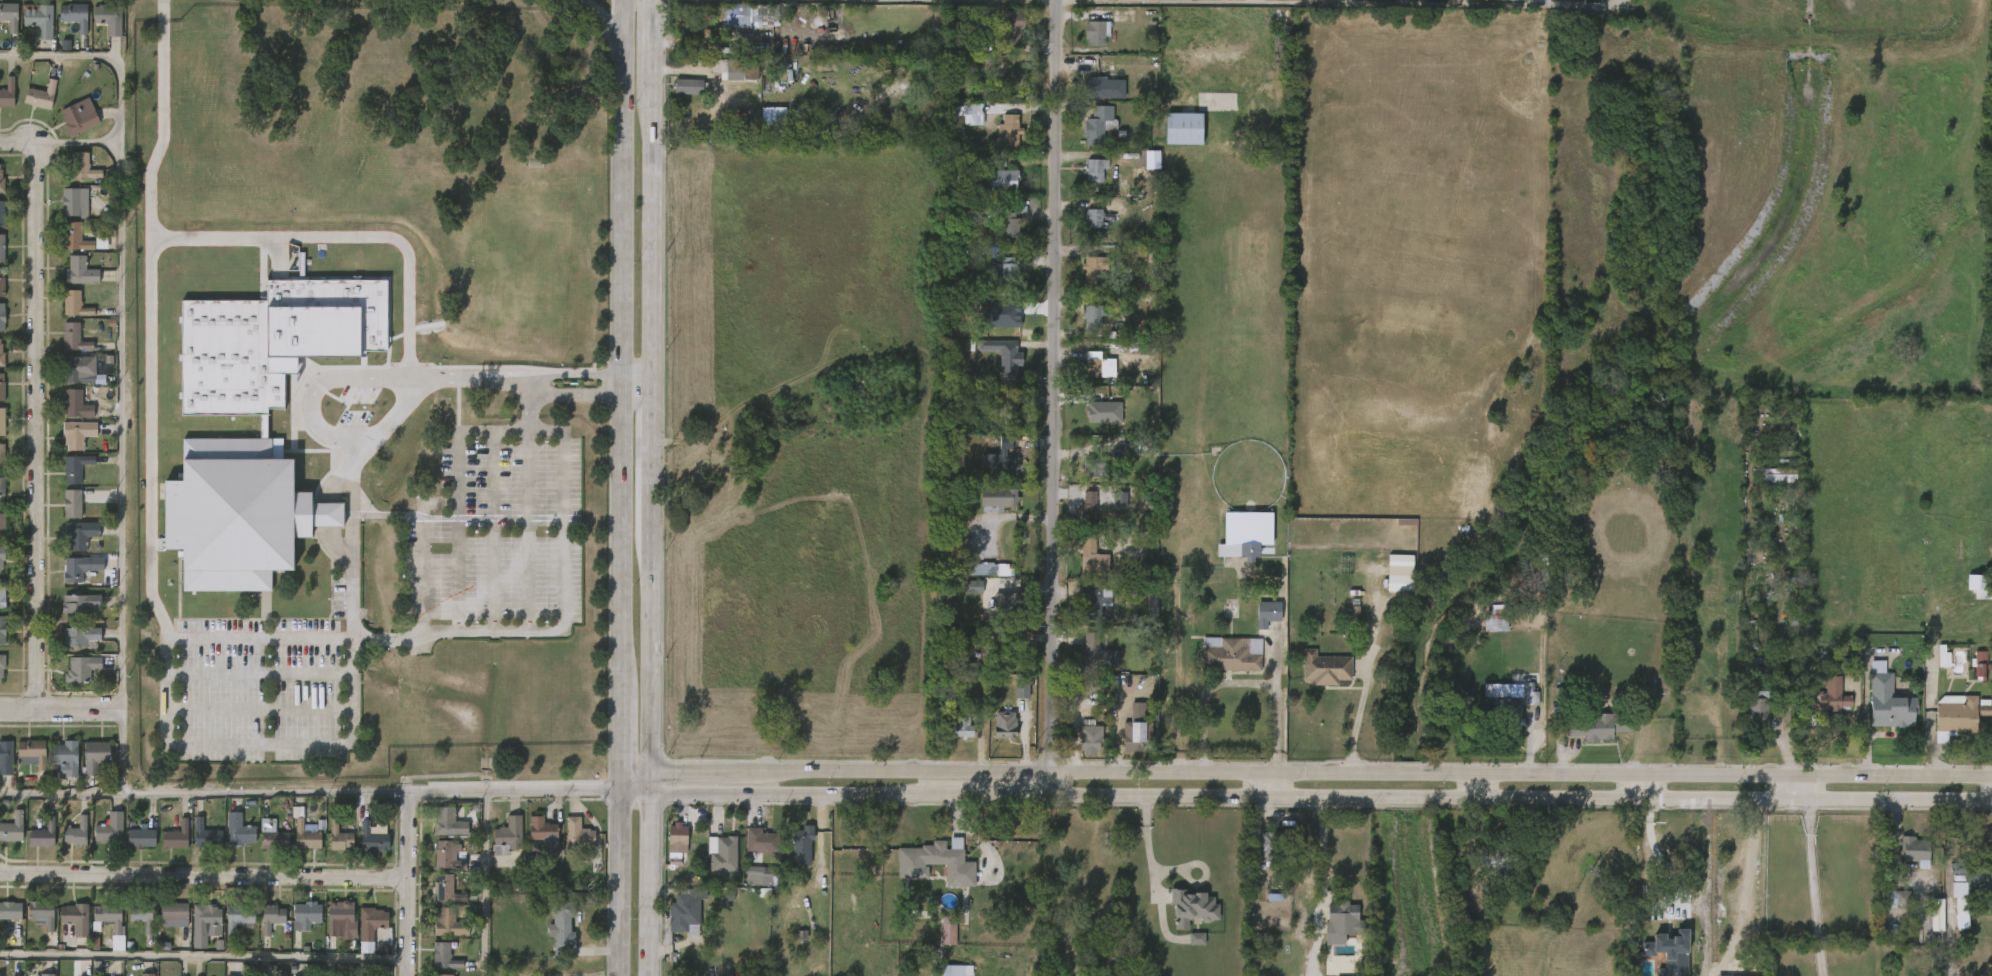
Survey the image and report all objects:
road: (1378, 1)
building: (1573, 1)
road: (1580, 3)
building: (74, 15)
building: (738, 15)
building: (10, 16)
building: (109, 17)
building: (40, 20)
building: (685, 22)
road: (603, 23)
building: (64, 26)
building: (731, 27)
building: (1012, 27)
building: (98, 28)
building: (3, 29)
building: (1094, 33)
building: (1001, 38)
road: (652, 43)
building: (1083, 44)
building: (735, 69)
building: (724, 80)
building: (688, 87)
building: (1096, 87)
building: (7, 92)
building: (41, 96)
building: (679, 97)
building: (1092, 98)
building: (30, 107)
building: (78, 119)
building: (961, 120)
building: (1101, 128)
building: (1182, 129)
building: (1008, 132)
building: (1171, 139)
road: (73, 142)
building: (997, 142)
building: (83, 166)
building: (1094, 170)
building: (72, 177)
building: (1084, 179)
building: (1, 181)
building: (1002, 181)
road: (620, 185)
building: (992, 190)
building: (72, 204)
building: (2, 213)
building: (63, 213)
building: (1093, 219)
building: (1009, 226)
building: (1082, 229)
road: (346, 236)
building: (74, 237)
road: (651, 240)
building: (1, 248)
building: (66, 249)
building: (1093, 269)
building: (77, 270)
building: (1005, 273)
building: (1083, 280)
building: (69, 282)
building: (2, 283)
building: (72, 303)
building: (64, 315)
building: (1092, 315)
building: (1, 316)
building: (1082, 326)
road: (119, 329)
building: (74, 337)
building: (63, 348)
building: (3, 353)
building: (1003, 356)
building: (1095, 364)
building: (992, 367)
building: (82, 370)
road: (634, 371)
building: (1085, 376)
building: (70, 380)
road: (531, 381)
road: (618, 382)
building: (2, 386)
road: (313, 391)
road: (634, 394)
road: (1061, 398)
building: (77, 404)
building: (1006, 408)
road: (37, 412)
building: (65, 415)
building: (0, 421)
building: (264, 425)
building: (78, 434)
building: (67, 445)
road: (651, 455)
building: (0, 457)
building: (1002, 459)
building: (705, 460)
building: (75, 468)
building: (1097, 468)
building: (973, 471)
building: (996, 472)
building: (1778, 472)
building: (64, 478)
building: (1767, 488)
road: (455, 489)
building: (1, 490)
building: (996, 498)
building: (72, 503)
building: (987, 509)
building: (1085, 509)
building: (1108, 510)
building: (61, 514)
building: (1077, 519)
building: (1, 525)
road: (347, 531)
building: (1244, 533)
building: (81, 534)
building: (70, 545)
road: (616, 546)
building: (1, 560)
building: (1092, 564)
building: (1080, 566)
building: (78, 567)
building: (1388, 572)
road: (421, 573)
building: (69, 578)
building: (979, 580)
building: (1981, 583)
building: (1387, 594)
building: (3, 595)
building: (1965, 596)
building: (961, 597)
building: (77, 603)
building: (1091, 604)
building: (995, 612)
building: (69, 613)
building: (1266, 613)
building: (1255, 624)
building: (1, 630)
building: (1483, 634)
building: (77, 636)
road: (650, 645)
building: (1008, 645)
building: (69, 647)
building: (1230, 654)
building: (1097, 656)
building: (1084, 662)
building: (2, 664)
building: (1981, 665)
building: (1930, 666)
building: (79, 668)
building: (1325, 668)
building: (1967, 674)
building: (1313, 679)
road: (1241, 682)
building: (1828, 692)
building: (1010, 700)
building: (1889, 700)
road: (1361, 704)
building: (1518, 705)
building: (1816, 707)
building: (1757, 708)
road: (59, 710)
building: (1876, 711)
building: (1492, 714)
building: (1958, 715)
building: (1986, 715)
building: (1745, 721)
building: (1126, 722)
building: (1007, 725)
building: (1510, 725)
building: (1600, 727)
building: (960, 728)
building: (1136, 728)
building: (993, 734)
building: (950, 737)
building: (1089, 743)
road: (614, 744)
road: (181, 745)
building: (1122, 747)
building: (1078, 749)
building: (32, 752)
building: (95, 755)
building: (6, 756)
building: (65, 757)
building: (21, 763)
building: (84, 766)
building: (56, 768)
road: (1321, 774)
road: (632, 782)
road: (942, 784)
road: (651, 786)
road: (1277, 786)
road: (1476, 788)
road: (1638, 789)
road: (1806, 789)
road: (61, 791)
road: (327, 792)
road: (632, 794)
road: (1321, 799)
building: (449, 822)
building: (12, 828)
building: (110, 829)
building: (240, 830)
building: (76, 832)
building: (437, 832)
building: (43, 834)
building: (206, 834)
building: (272, 834)
building: (542, 834)
building: (305, 835)
building: (372, 835)
building: (576, 835)
building: (142, 836)
building: (176, 836)
building: (339, 836)
building: (506, 836)
road: (651, 836)
building: (678, 837)
building: (65, 840)
building: (99, 840)
building: (762, 840)
building: (228, 841)
building: (293, 842)
road: (1149, 843)
building: (532, 844)
building: (567, 844)
building: (195, 845)
building: (31, 846)
building: (165, 846)
building: (261, 846)
building: (800, 846)
building: (1281, 846)
building: (129, 847)
building: (362, 847)
road: (1325, 847)
building: (328, 848)
building: (666, 848)
building: (1914, 849)
building: (749, 851)
building: (725, 854)
building: (932, 854)
building: (447, 855)
building: (790, 855)
building: (1500, 860)
building: (1901, 860)
building: (710, 866)
building: (434, 868)
building: (925, 872)
building: (762, 875)
road: (204, 876)
building: (1966, 878)
building: (1991, 879)
road: (616, 882)
road: (409, 884)
road: (482, 884)
road: (1696, 885)
building: (747, 886)
building: (447, 889)
road: (1811, 889)
building: (434, 899)
building: (1947, 904)
building: (1191, 908)
building: (1888, 908)
building: (9, 909)
building: (42, 912)
building: (682, 913)
building: (307, 914)
building: (174, 915)
building: (108, 917)
building: (141, 917)
building: (238, 917)
building: (271, 917)
building: (1180, 917)
building: (1344, 917)
building: (76, 918)
building: (204, 919)
building: (341, 920)
building: (5, 921)
building: (449, 923)
building: (31, 924)
building: (1924, 924)
building: (162, 925)
building: (294, 925)
road: (650, 925)
building: (371, 926)
building: (64, 928)
building: (260, 928)
building: (131, 929)
building: (330, 929)
building: (563, 929)
building: (1331, 929)
building: (227, 931)
building: (437, 933)
building: (194, 934)
building: (947, 937)
building: (1659, 937)
building: (359, 938)
building: (550, 939)
building: (936, 940)
building: (106, 946)
building: (1184, 949)
road: (205, 955)
building: (444, 956)
building: (951, 971)
building: (147, 974)
building: (1991, 974)
building: (47, 975)
building: (231, 975)
building: (444, 975)

